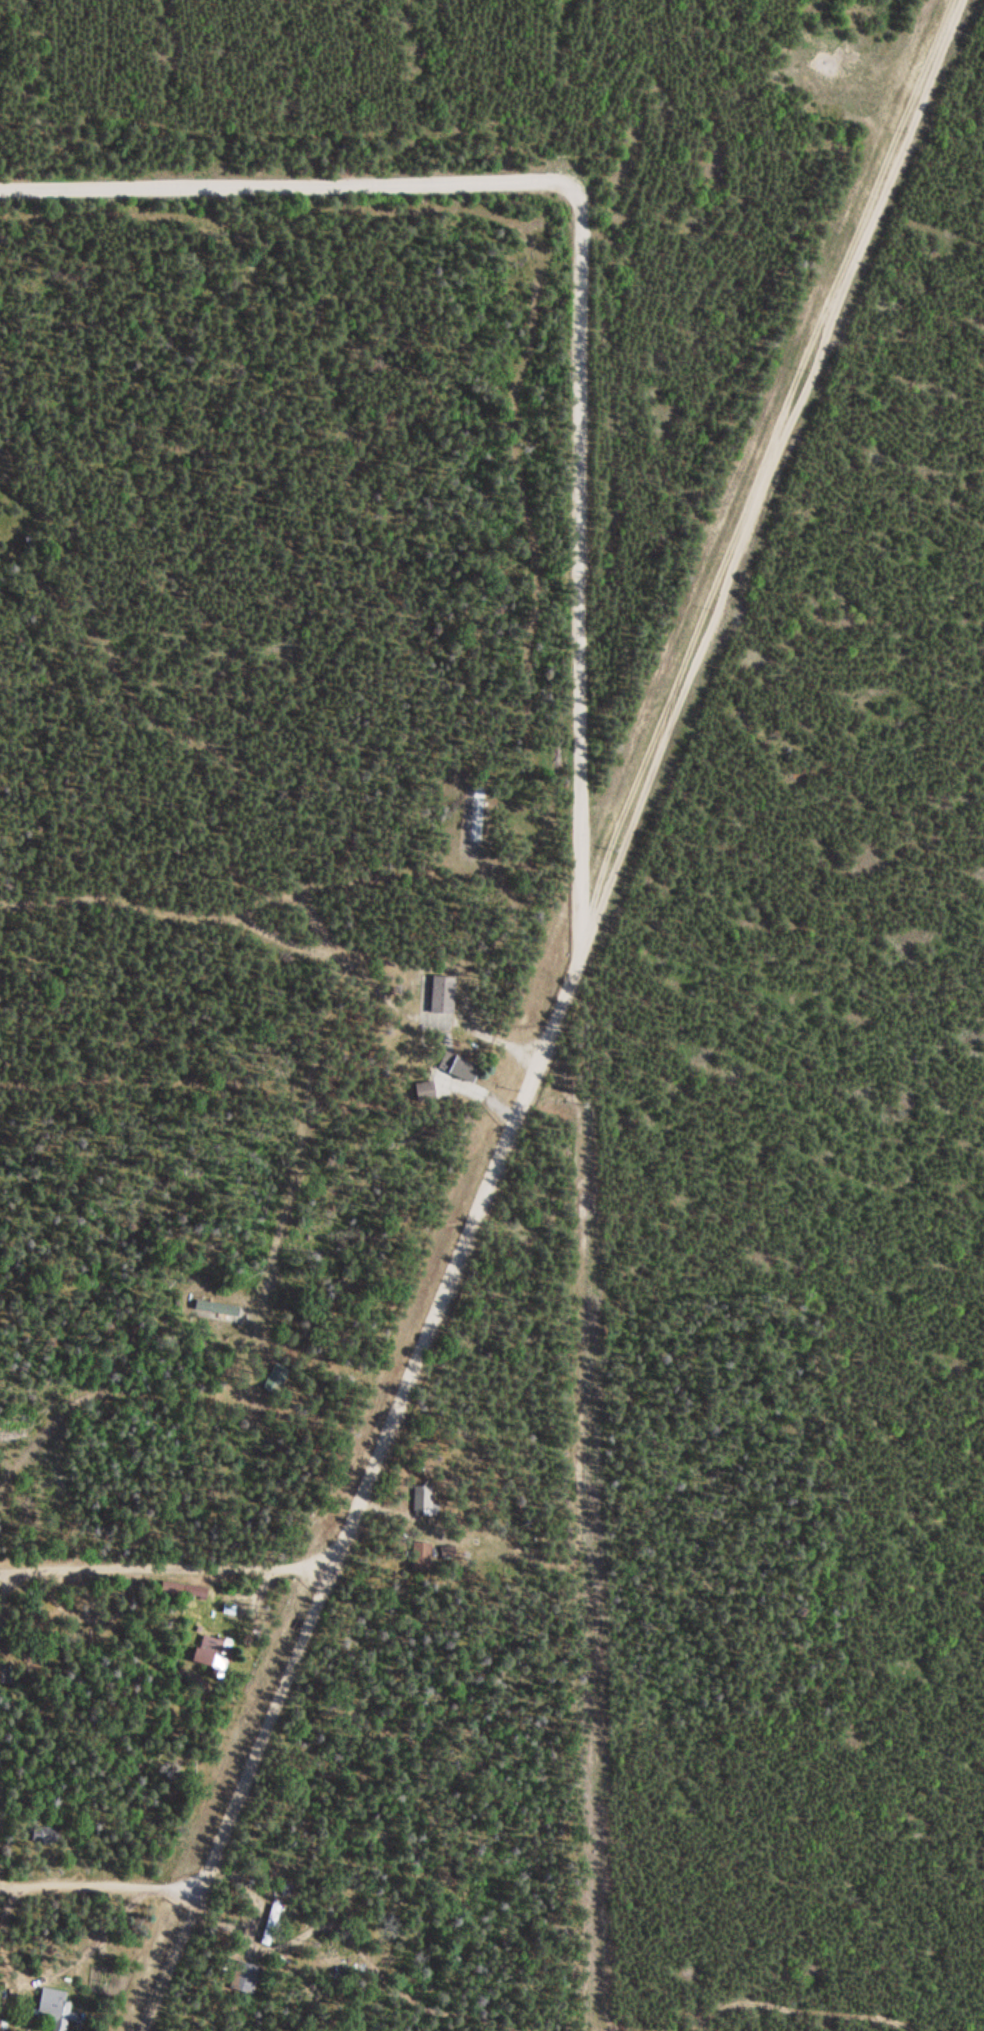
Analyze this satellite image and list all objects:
road: (582, 275)
building: (475, 816)
road: (343, 882)
road: (198, 910)
building: (439, 996)
road: (554, 1015)
building: (456, 1068)
building: (421, 1092)
building: (215, 1308)
building: (272, 1380)
building: (419, 1500)
building: (417, 1558)
road: (163, 1569)
building: (205, 1656)
building: (5, 1674)
building: (47, 1834)
road: (97, 1885)
building: (267, 1926)
building: (241, 1980)
building: (56, 2007)
road: (756, 2011)

